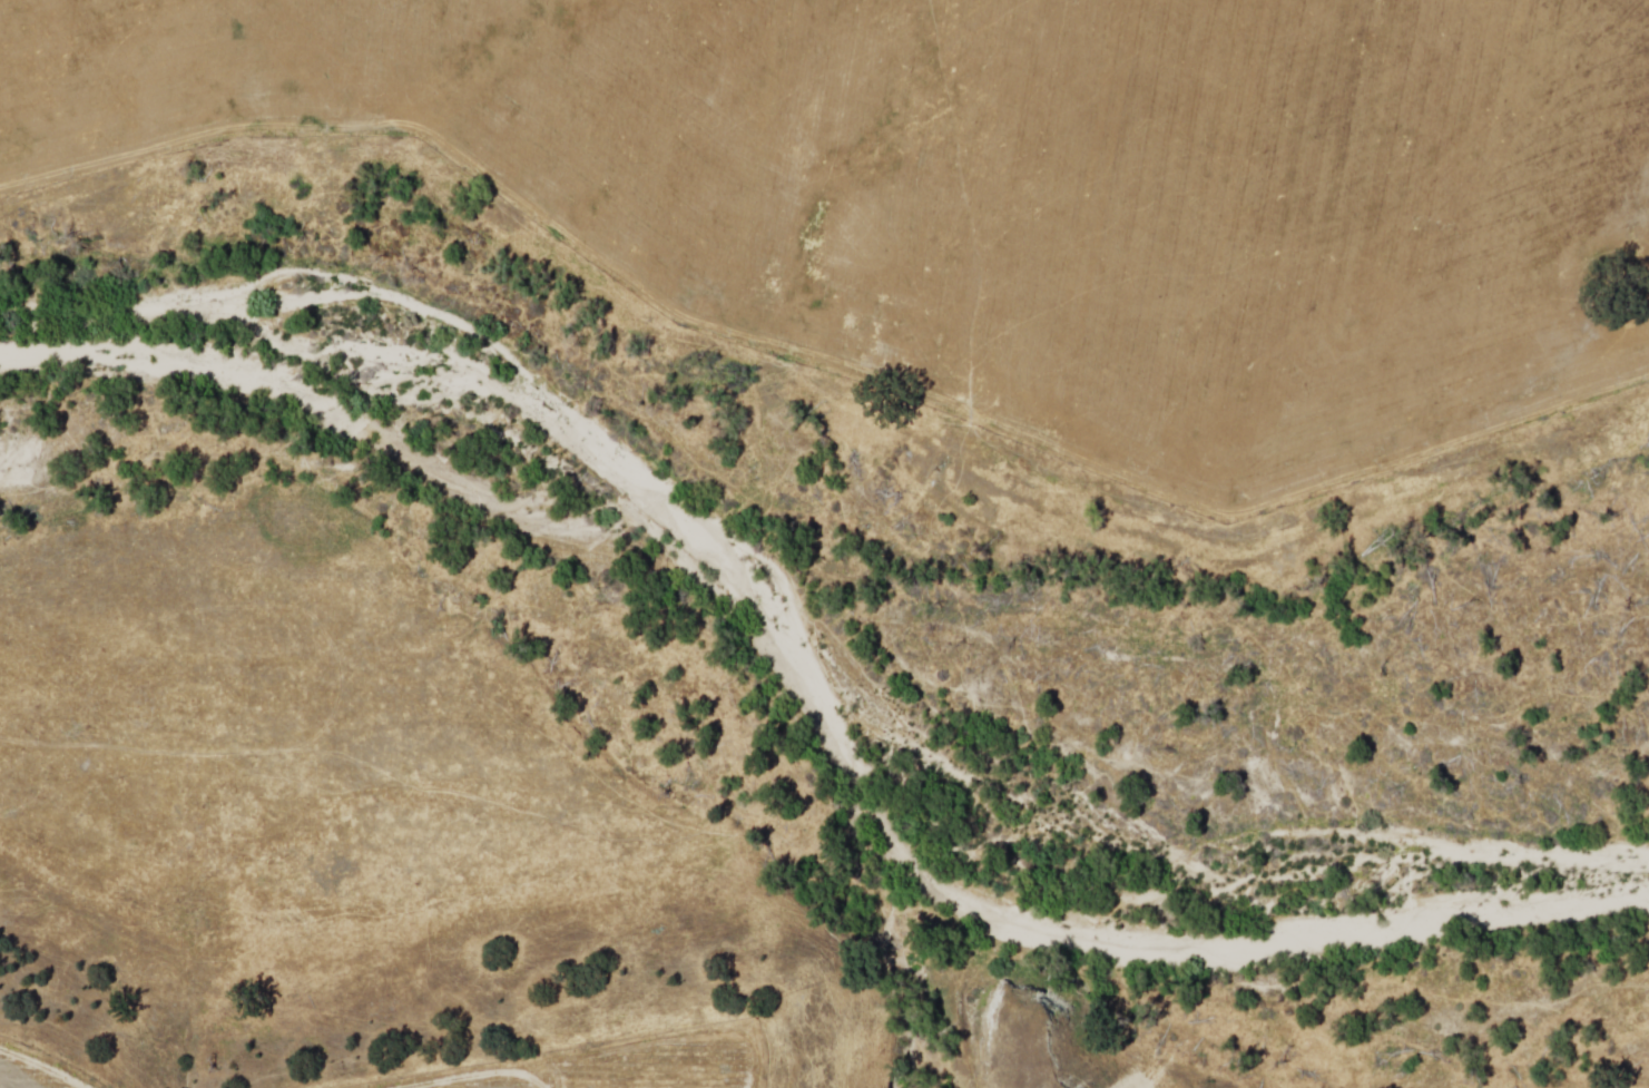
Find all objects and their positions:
crop: (1011, 184)
river: (510, 513)
river: (1304, 914)
road: (42, 1068)
road: (477, 1076)

